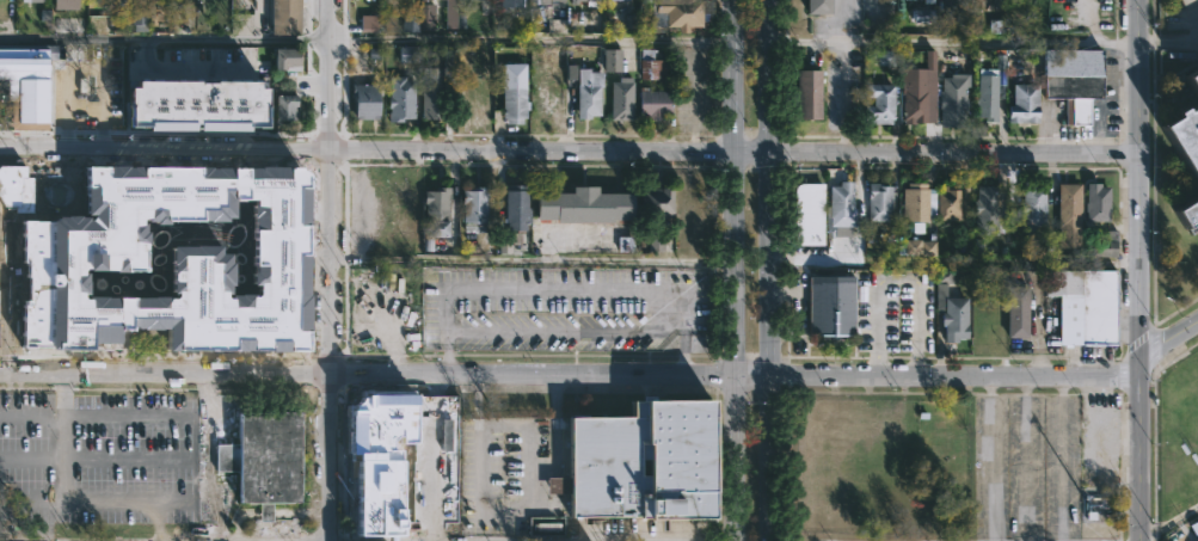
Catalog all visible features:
building: (32, 0)
building: (450, 0)
building: (468, 0)
building: (622, 0)
building: (928, 1)
building: (510, 2)
building: (578, 2)
building: (64, 4)
building: (954, 4)
building: (817, 6)
building: (543, 10)
building: (425, 11)
building: (674, 13)
building: (922, 16)
building: (283, 17)
building: (139, 18)
building: (410, 23)
building: (367, 24)
road: (950, 38)
road: (364, 39)
building: (408, 54)
building: (283, 56)
building: (468, 56)
building: (884, 56)
building: (610, 60)
building: (240, 63)
building: (650, 64)
road: (841, 75)
building: (1193, 76)
building: (1074, 80)
building: (436, 86)
building: (991, 86)
building: (26, 87)
building: (586, 93)
building: (142, 94)
building: (546, 94)
building: (807, 94)
building: (213, 96)
building: (474, 96)
building: (399, 99)
building: (620, 99)
building: (954, 99)
building: (364, 100)
building: (915, 100)
building: (880, 102)
building: (104, 103)
building: (174, 104)
building: (653, 104)
building: (1024, 104)
building: (512, 105)
building: (252, 106)
building: (283, 107)
building: (70, 109)
building: (1184, 136)
road: (363, 149)
road: (748, 149)
road: (952, 153)
road: (1137, 177)
building: (658, 202)
building: (878, 202)
building: (1096, 202)
building: (917, 203)
building: (947, 203)
building: (1033, 203)
building: (841, 204)
building: (585, 205)
building: (1068, 205)
building: (473, 208)
building: (515, 208)
building: (363, 210)
building: (985, 210)
building: (404, 211)
building: (438, 213)
building: (1187, 213)
building: (807, 215)
building: (1105, 245)
building: (919, 247)
building: (171, 260)
road: (326, 270)
road: (729, 270)
road: (767, 270)
road: (899, 279)
road: (564, 287)
road: (784, 291)
building: (364, 300)
building: (1085, 305)
building: (830, 306)
building: (952, 308)
parking lot: (563, 312)
building: (1018, 312)
road: (784, 336)
road: (1168, 336)
road: (364, 374)
road: (952, 375)
road: (748, 377)
road: (121, 414)
road: (30, 416)
road: (1139, 447)
parking lot: (69, 456)
building: (264, 456)
road: (97, 460)
building: (640, 463)
building: (391, 493)
road: (62, 496)
road: (31, 502)
road: (158, 521)
building: (545, 527)
road: (164, 539)
road: (139, 540)
road: (331, 540)

